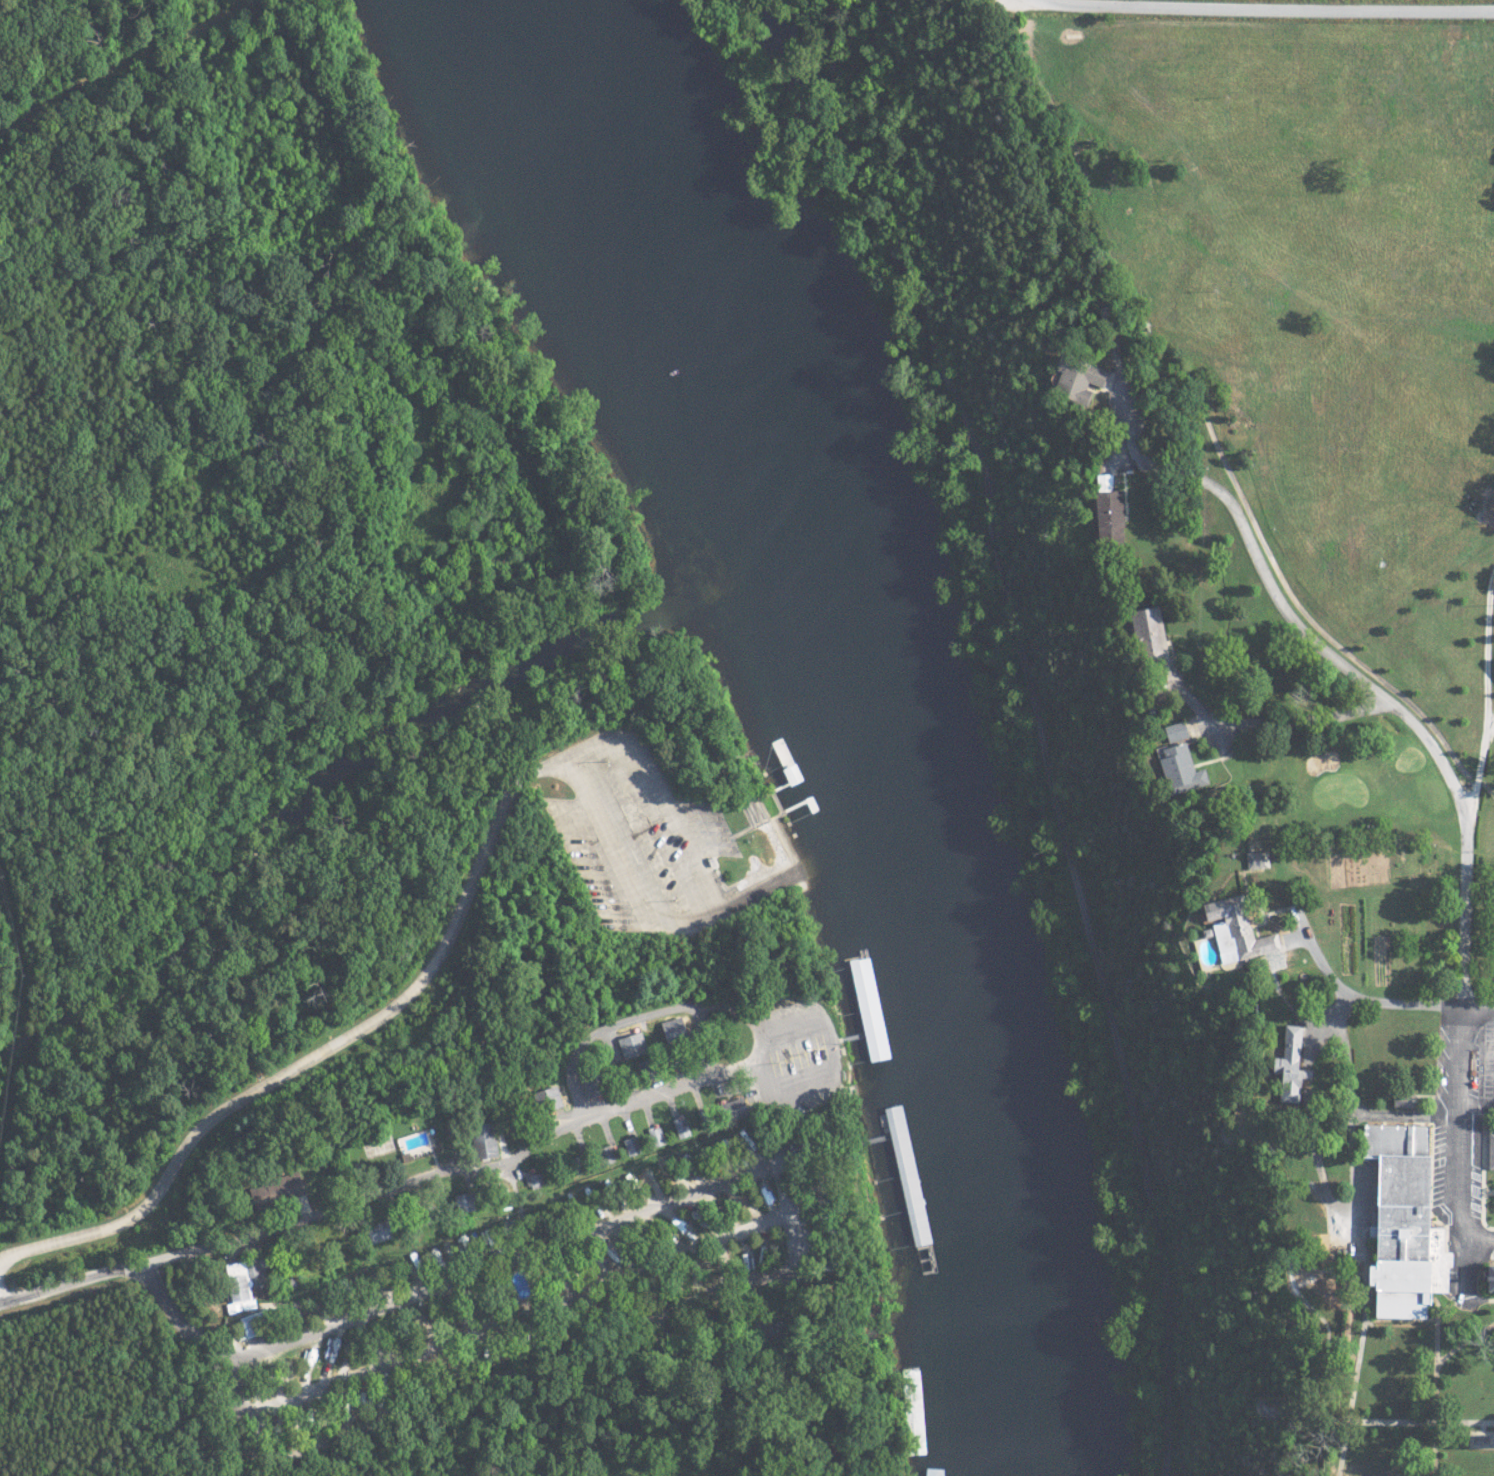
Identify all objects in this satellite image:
road: (1272, 11)
building: (1071, 378)
building: (1105, 512)
building: (1144, 634)
road: (1374, 690)
river: (839, 714)
building: (1173, 732)
building: (1178, 772)
building: (1254, 860)
road: (708, 902)
building: (1232, 931)
road: (1368, 998)
building: (873, 1009)
road: (648, 1014)
building: (678, 1031)
building: (635, 1046)
road: (321, 1050)
parking lot: (1487, 1052)
building: (1285, 1066)
building: (595, 1085)
building: (1399, 1100)
building: (682, 1129)
road: (1465, 1131)
building: (659, 1137)
building: (491, 1141)
building: (1489, 1150)
building: (908, 1162)
road: (402, 1185)
building: (284, 1190)
building: (1393, 1221)
building: (1314, 1248)
building: (1484, 1280)
building: (244, 1287)
road: (519, 1314)
building: (256, 1323)
road: (501, 1374)
building: (1330, 1475)

